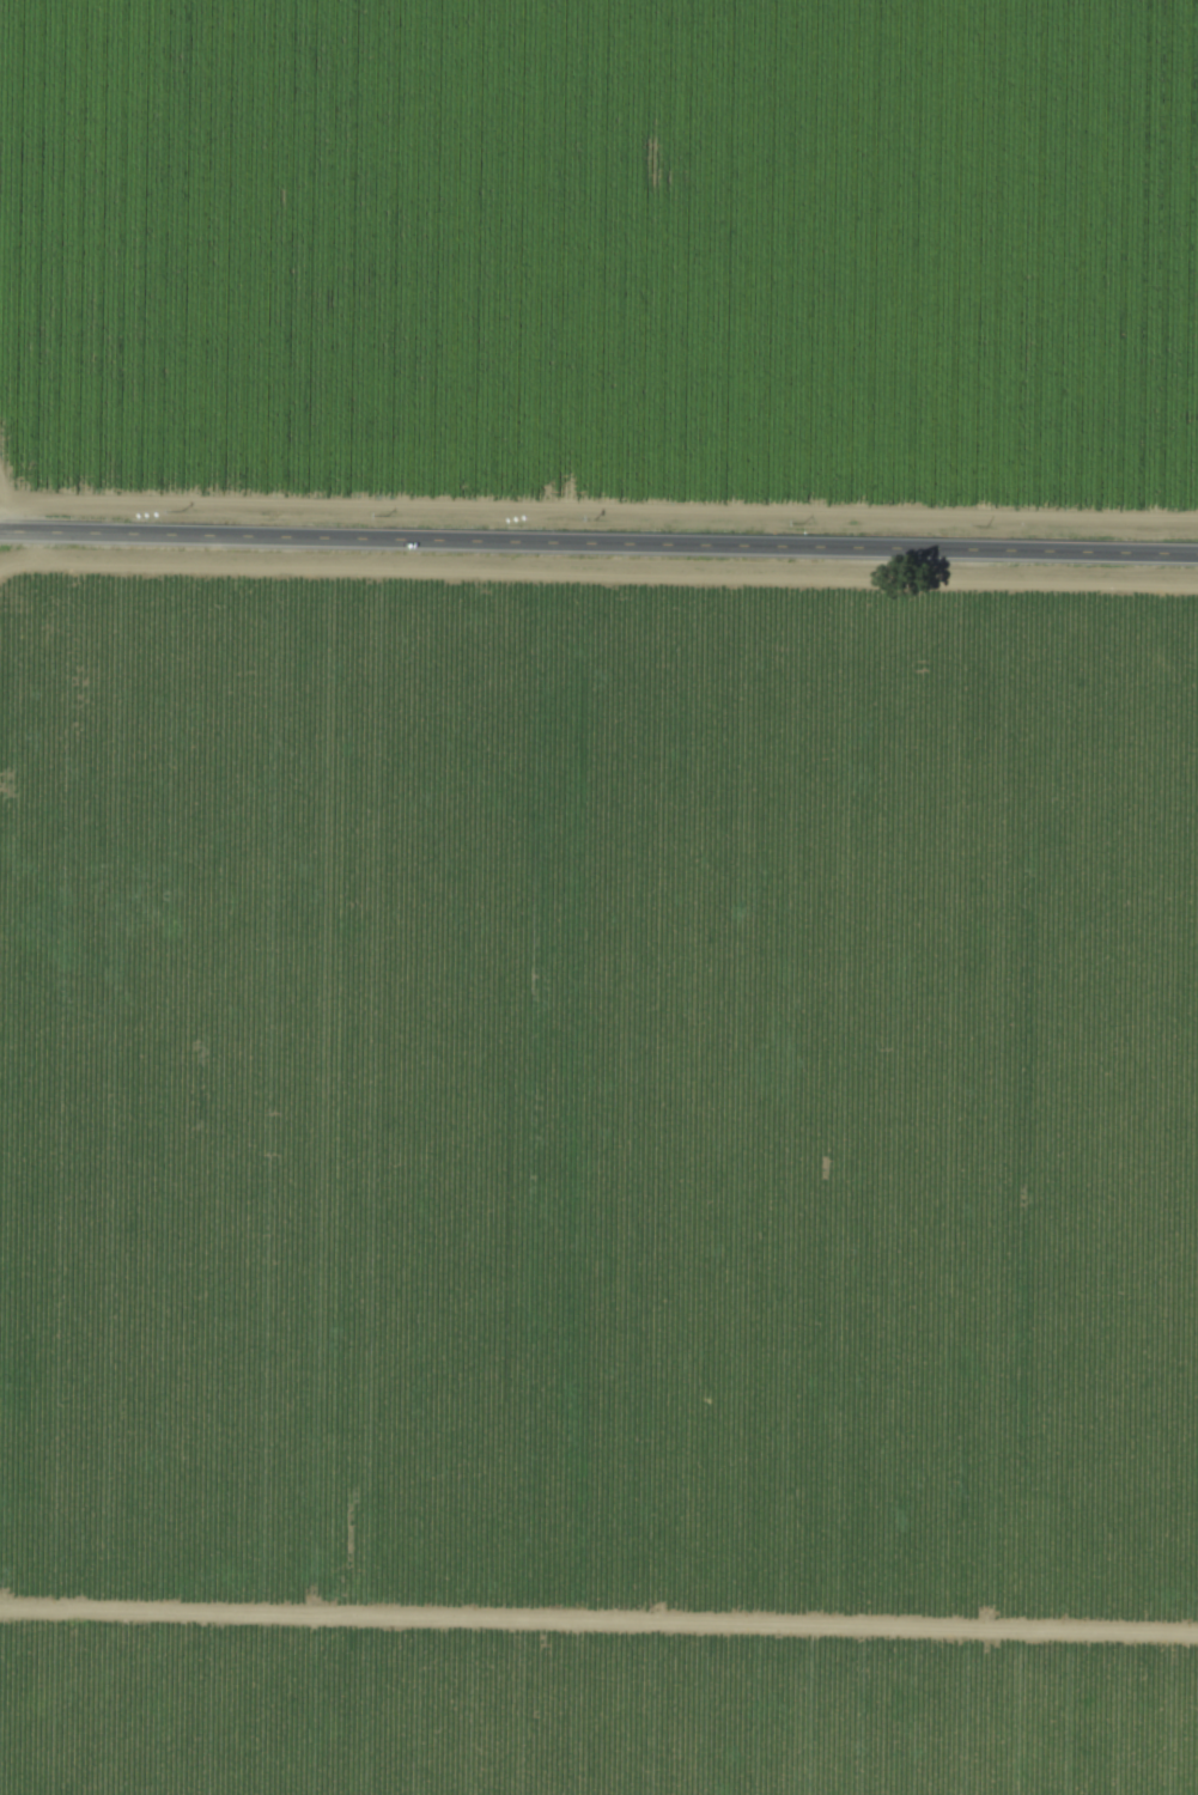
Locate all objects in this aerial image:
road: (598, 543)

